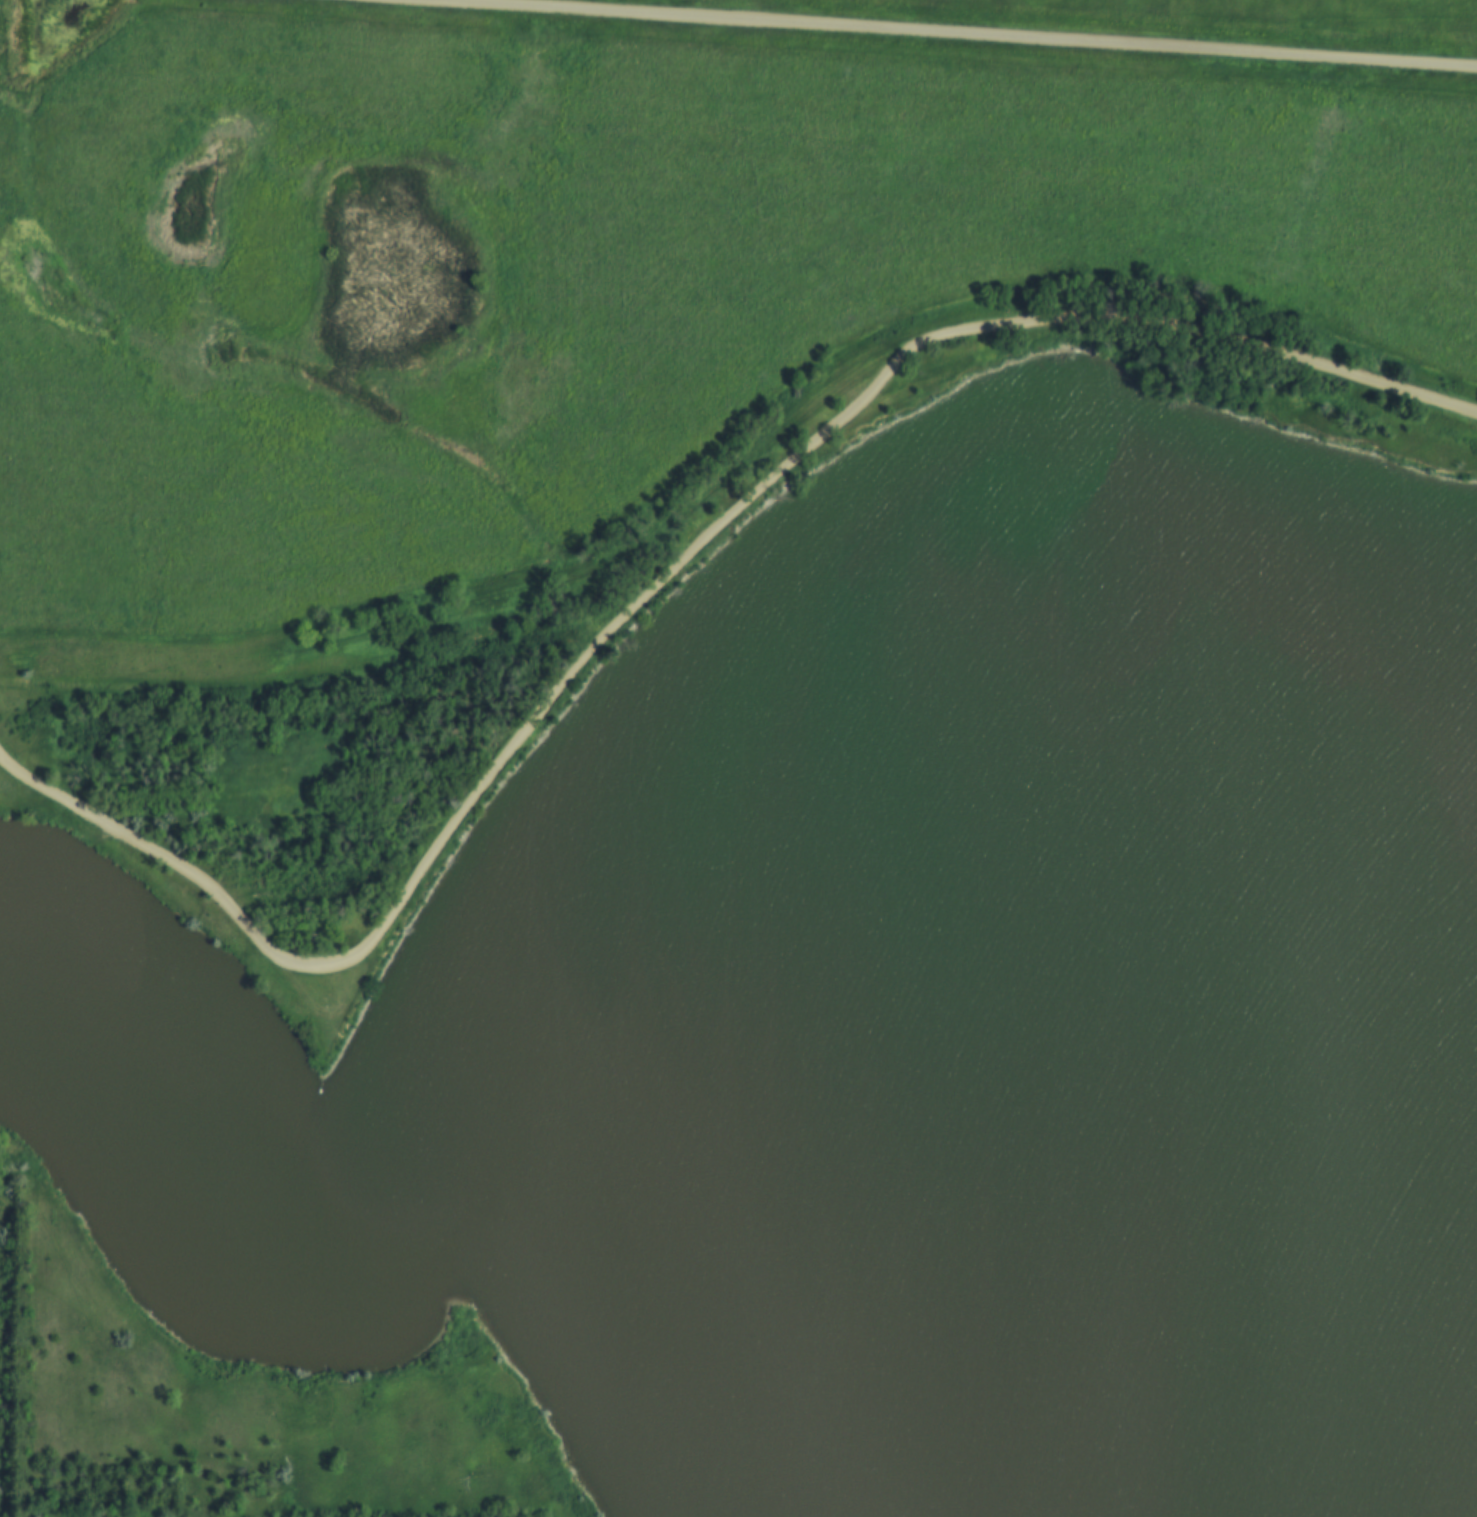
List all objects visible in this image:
road: (929, 35)
road: (666, 581)
river: (34, 967)
river: (693, 1203)

